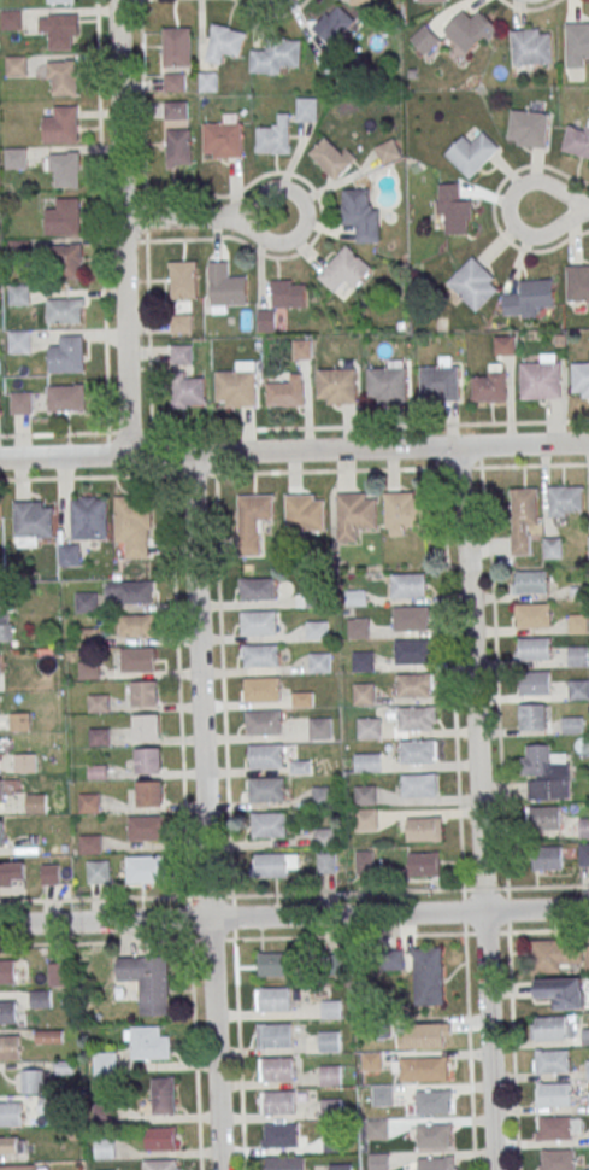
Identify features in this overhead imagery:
building: (431, 0)
building: (58, 1)
building: (359, 2)
building: (11, 19)
building: (336, 25)
building: (59, 30)
building: (470, 31)
building: (424, 40)
building: (223, 43)
building: (577, 43)
building: (176, 46)
building: (531, 46)
building: (276, 57)
building: (14, 66)
building: (61, 77)
building: (173, 82)
building: (207, 82)
building: (306, 110)
building: (176, 111)
building: (61, 125)
building: (529, 128)
building: (273, 138)
building: (223, 139)
building: (577, 140)
building: (178, 148)
building: (387, 152)
building: (472, 153)
building: (14, 158)
building: (331, 158)
building: (63, 170)
road: (561, 205)
building: (453, 210)
building: (360, 215)
road: (102, 216)
road: (145, 216)
road: (205, 216)
building: (64, 217)
road: (124, 227)
building: (69, 259)
building: (344, 269)
building: (182, 280)
building: (577, 282)
building: (473, 285)
building: (225, 286)
building: (18, 294)
building: (288, 294)
building: (529, 298)
building: (65, 310)
building: (181, 320)
building: (265, 321)
building: (18, 341)
building: (503, 345)
building: (301, 350)
building: (66, 355)
building: (181, 355)
building: (581, 379)
building: (541, 380)
building: (440, 382)
building: (337, 385)
building: (389, 385)
building: (490, 385)
building: (236, 388)
building: (188, 392)
building: (287, 392)
building: (66, 398)
building: (20, 403)
road: (294, 427)
road: (294, 450)
road: (294, 472)
building: (565, 501)
building: (404, 510)
building: (305, 513)
building: (354, 515)
building: (88, 517)
building: (33, 519)
building: (252, 521)
building: (523, 521)
building: (132, 525)
building: (69, 555)
building: (528, 583)
building: (410, 586)
building: (257, 589)
building: (134, 591)
building: (316, 597)
building: (355, 597)
building: (87, 602)
building: (534, 616)
building: (412, 619)
building: (5, 622)
building: (259, 624)
building: (578, 624)
building: (132, 625)
building: (359, 628)
building: (317, 630)
building: (87, 637)
building: (535, 649)
building: (413, 653)
building: (260, 655)
building: (578, 656)
building: (137, 660)
building: (364, 661)
building: (319, 663)
building: (0, 666)
building: (89, 669)
building: (535, 683)
building: (416, 686)
building: (261, 690)
building: (579, 690)
building: (145, 694)
building: (364, 694)
building: (302, 700)
building: (99, 703)
building: (532, 716)
building: (417, 719)
building: (20, 723)
building: (263, 723)
building: (573, 725)
building: (146, 727)
building: (320, 729)
building: (370, 729)
building: (99, 737)
building: (418, 751)
building: (266, 756)
building: (147, 761)
building: (367, 762)
building: (25, 764)
building: (300, 767)
building: (96, 772)
building: (546, 773)
building: (419, 785)
building: (267, 790)
building: (1, 791)
building: (149, 795)
building: (365, 795)
building: (323, 796)
building: (36, 803)
building: (89, 803)
road: (481, 807)
road: (201, 811)
building: (546, 818)
building: (366, 819)
road: (229, 821)
road: (185, 823)
building: (269, 825)
building: (147, 827)
building: (583, 829)
building: (424, 830)
building: (1, 835)
building: (324, 837)
building: (90, 844)
building: (584, 854)
building: (548, 859)
building: (326, 862)
building: (365, 862)
building: (424, 865)
building: (269, 866)
building: (146, 868)
building: (98, 872)
building: (4, 874)
building: (51, 876)
road: (294, 893)
road: (294, 914)
road: (254, 937)
building: (548, 952)
building: (587, 958)
building: (275, 964)
building: (428, 969)
building: (11, 972)
building: (57, 975)
building: (147, 981)
building: (561, 993)
building: (40, 999)
building: (275, 999)
road: (512, 1011)
building: (8, 1012)
building: (552, 1028)
building: (276, 1035)
building: (48, 1036)
building: (429, 1036)
building: (584, 1036)
building: (330, 1041)
building: (148, 1042)
building: (10, 1047)
building: (373, 1061)
building: (553, 1061)
building: (106, 1063)
building: (277, 1069)
building: (423, 1069)
building: (588, 1069)
building: (331, 1075)
building: (33, 1082)
building: (384, 1095)
building: (554, 1095)
building: (163, 1096)
building: (281, 1102)
building: (432, 1102)
building: (332, 1108)
building: (10, 1113)
building: (106, 1113)
building: (378, 1129)
building: (555, 1129)
building: (281, 1136)
building: (434, 1136)
building: (160, 1139)
building: (335, 1142)
building: (11, 1146)
building: (105, 1148)
building: (559, 1160)
building: (379, 1162)
building: (284, 1163)
building: (435, 1164)
building: (160, 1165)
building: (342, 1166)
building: (18, 1168)

